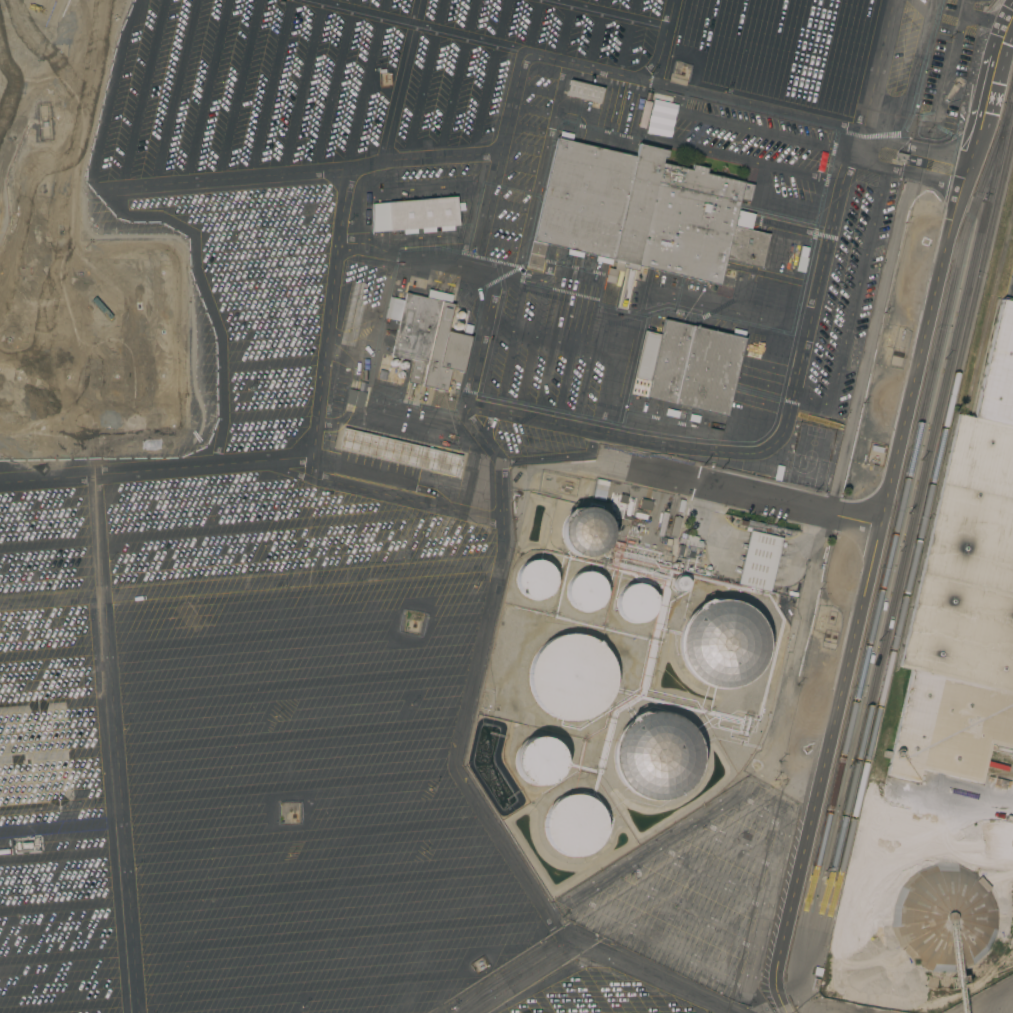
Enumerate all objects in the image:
road: (968, 7)
road: (956, 40)
road: (515, 80)
road: (536, 90)
building: (584, 91)
road: (531, 109)
road: (526, 129)
road: (592, 135)
road: (815, 144)
road: (521, 148)
road: (749, 160)
road: (516, 167)
road: (539, 172)
road: (512, 183)
road: (506, 204)
building: (422, 213)
building: (644, 213)
road: (501, 224)
road: (496, 243)
road: (456, 261)
building: (625, 291)
road: (853, 299)
road: (653, 304)
building: (460, 315)
railway: (990, 318)
building: (457, 327)
building: (467, 330)
building: (429, 339)
road: (802, 345)
building: (393, 363)
building: (403, 365)
road: (477, 366)
building: (687, 367)
road: (319, 374)
building: (400, 375)
road: (478, 436)
building: (398, 452)
road: (358, 468)
railway: (907, 481)
railway: (924, 485)
road: (739, 495)
building: (645, 505)
railway: (928, 507)
road: (501, 511)
road: (878, 515)
building: (662, 524)
building: (674, 526)
building: (584, 531)
building: (690, 541)
building: (760, 555)
road: (300, 578)
building: (534, 579)
building: (679, 583)
building: (585, 591)
building: (966, 593)
road: (49, 600)
building: (635, 603)
building: (722, 644)
building: (571, 677)
building: (34, 756)
building: (655, 756)
building: (538, 761)
building: (574, 825)
building: (943, 918)
road: (519, 978)
road: (651, 978)

